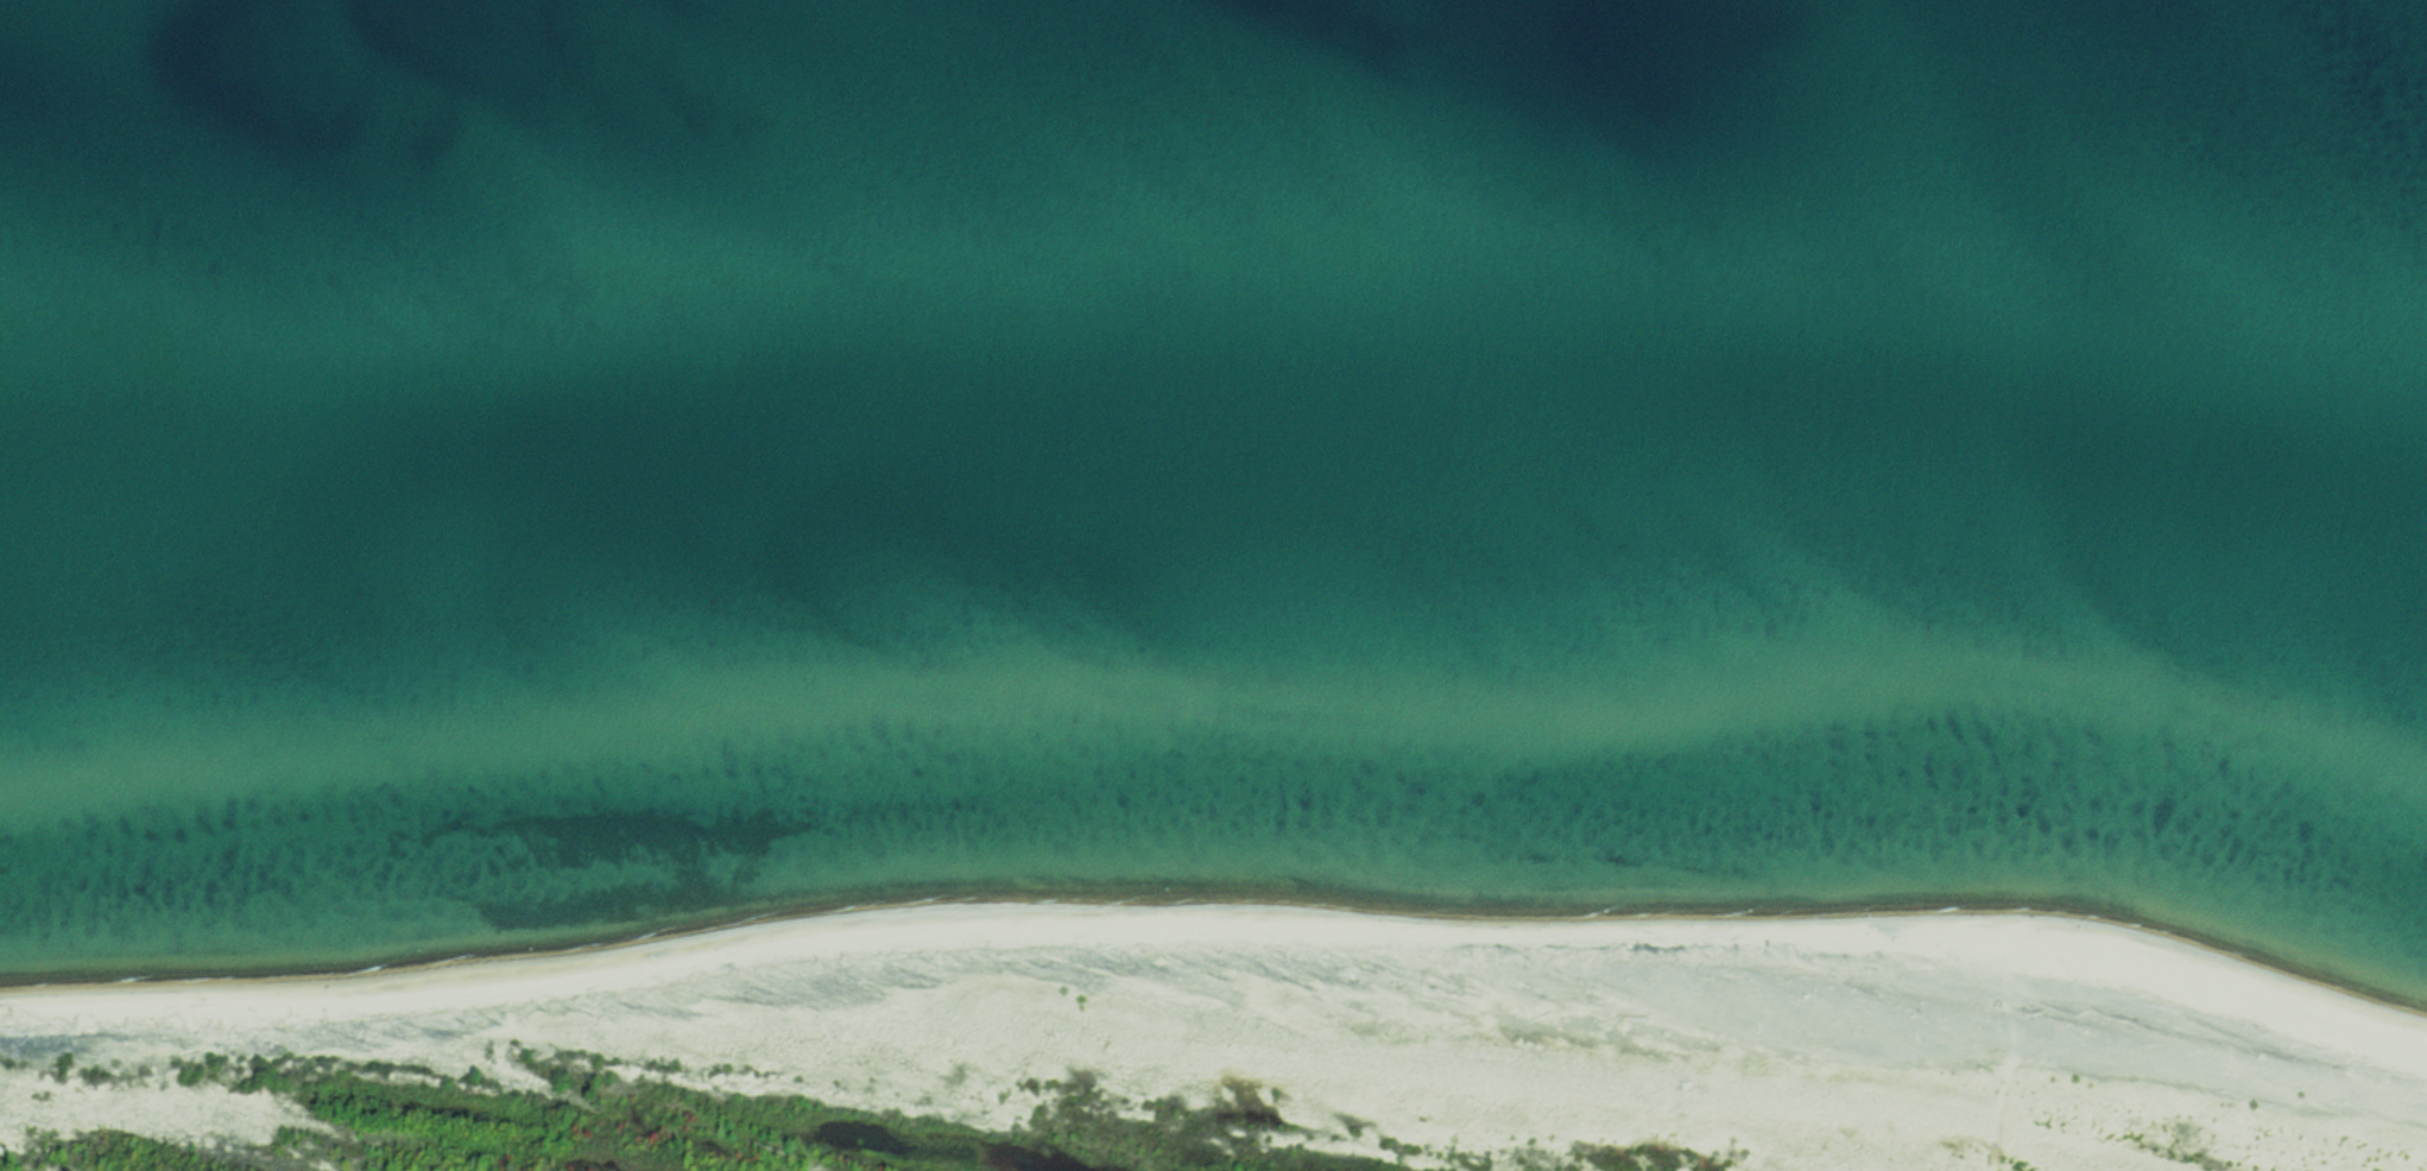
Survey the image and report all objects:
road: (1999, 1114)

